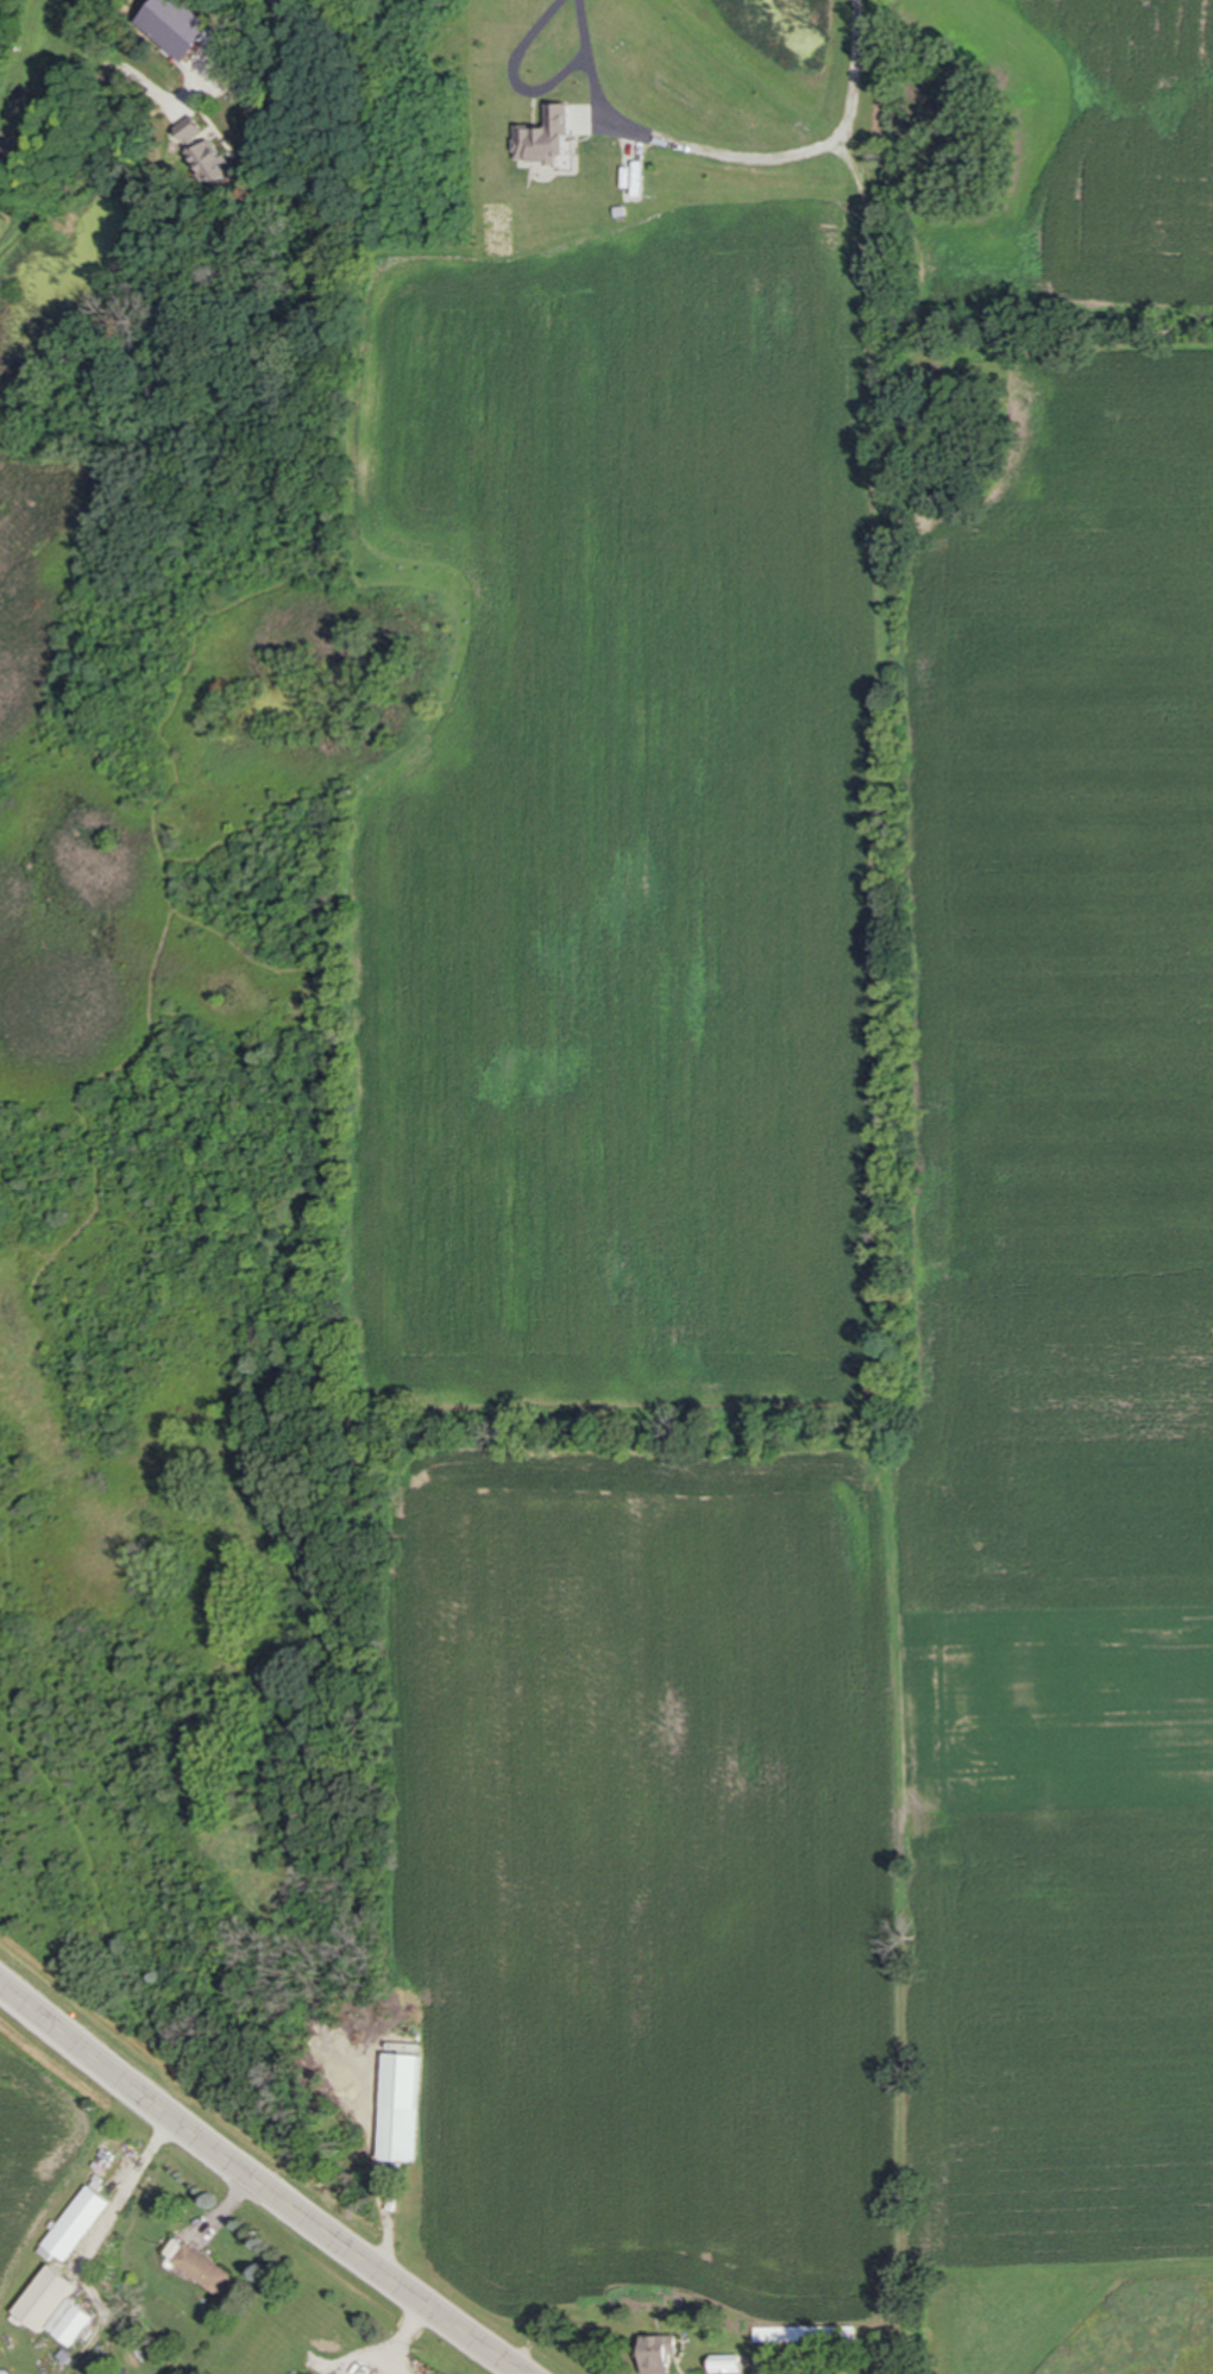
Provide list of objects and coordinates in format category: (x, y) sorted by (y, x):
building: (57, 27)
road: (262, 67)
road: (515, 76)
building: (552, 139)
road: (733, 156)
building: (212, 159)
building: (400, 2135)
road: (257, 2183)
road: (114, 2211)
building: (81, 2224)
building: (200, 2267)
building: (59, 2309)
road: (398, 2336)
building: (664, 2356)

